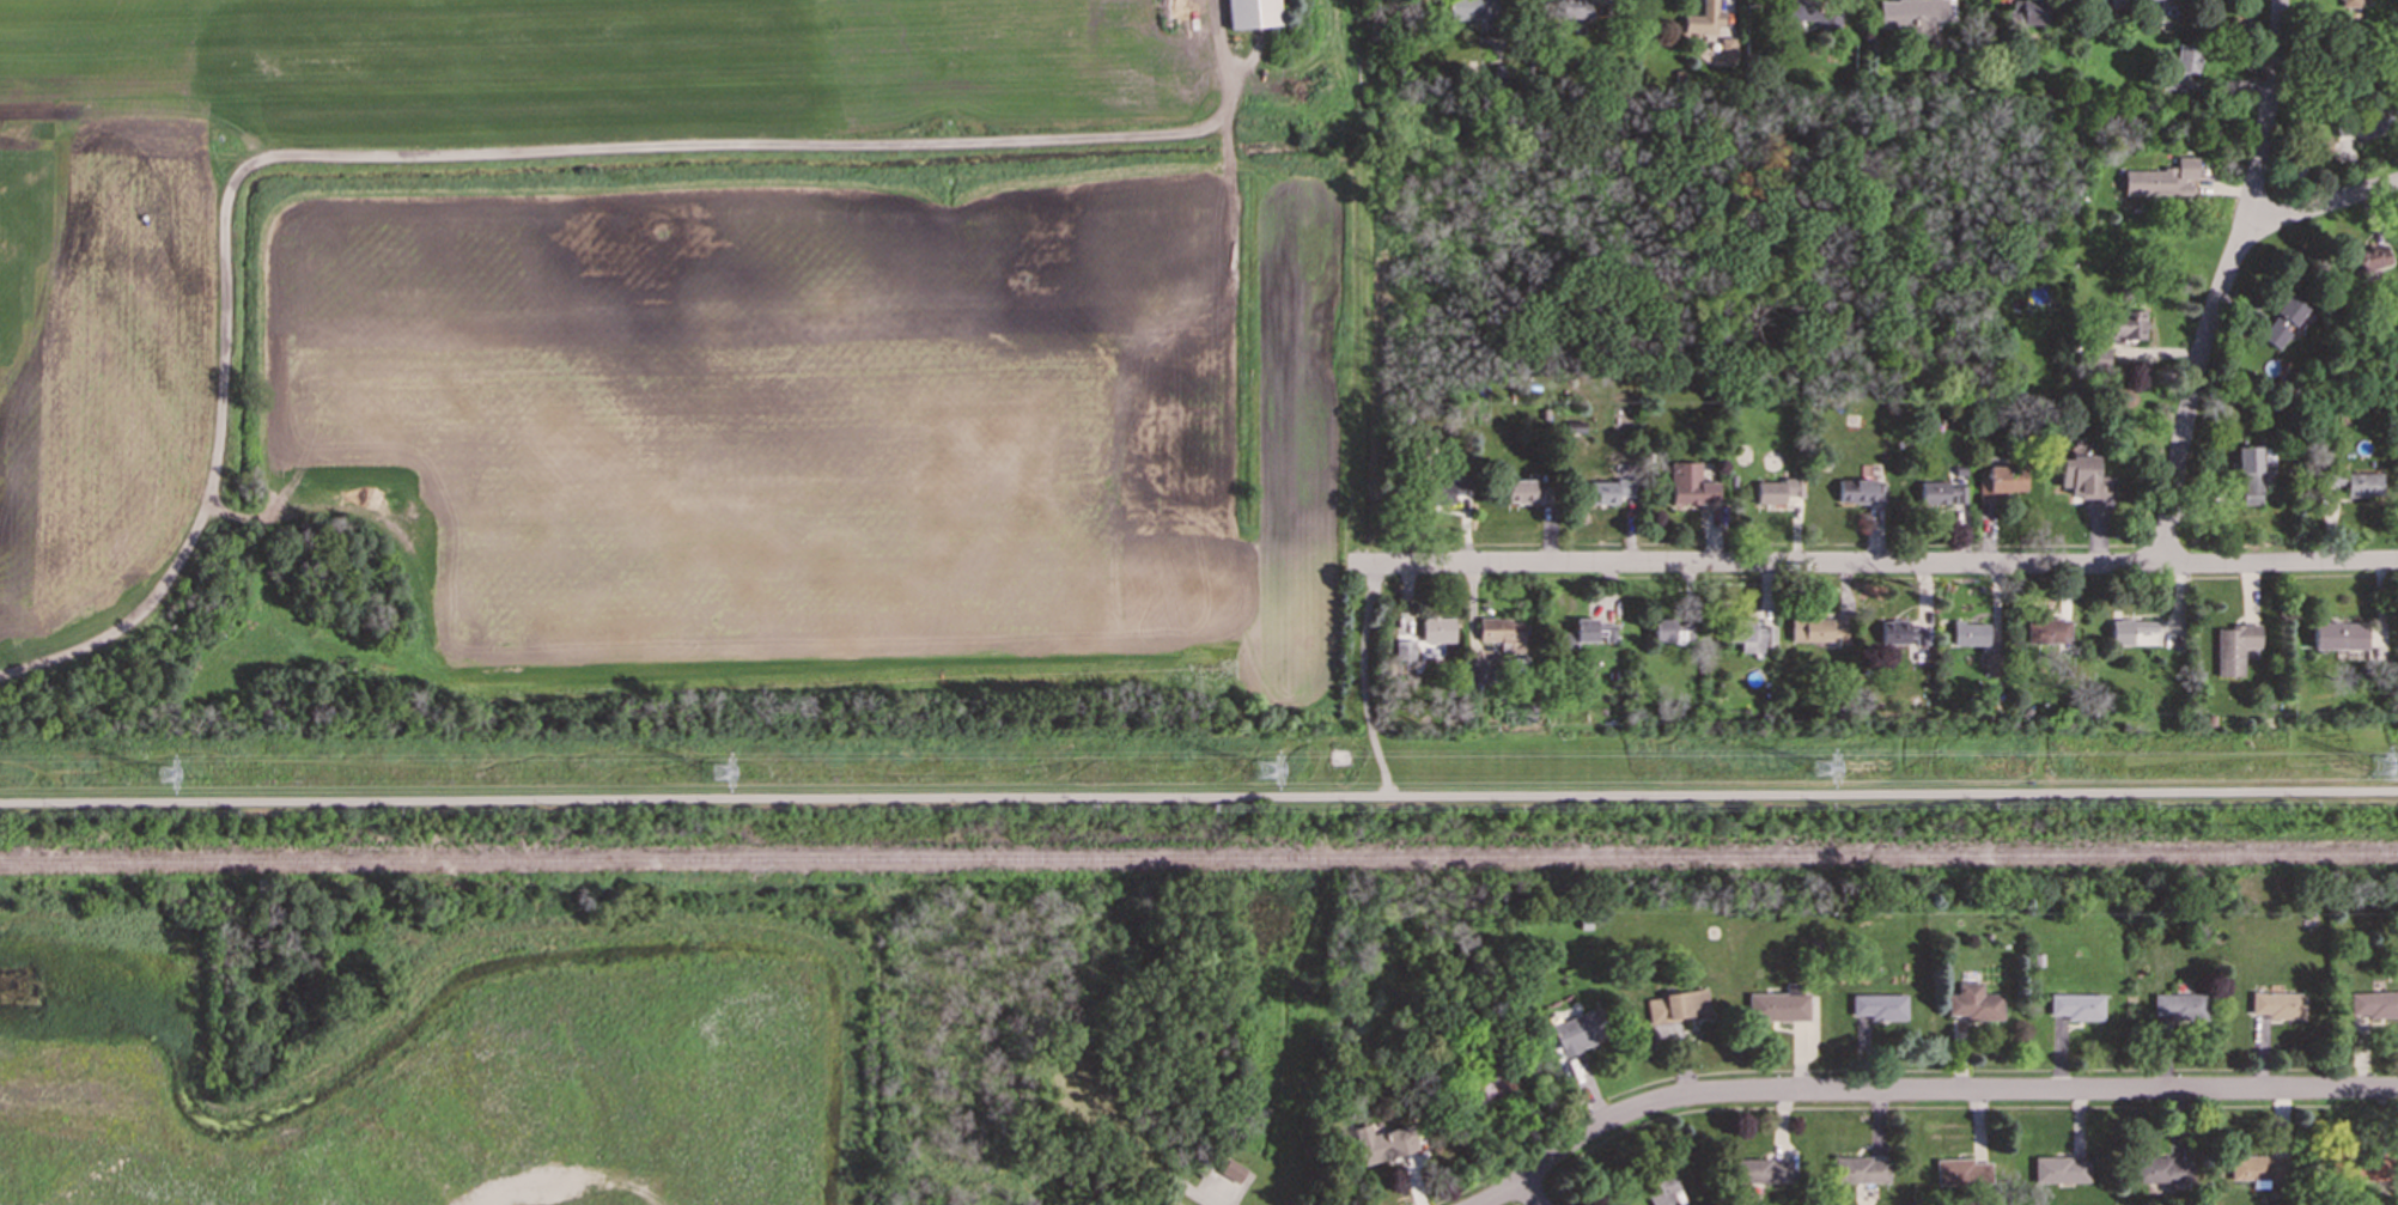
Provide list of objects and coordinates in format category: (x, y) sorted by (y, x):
building: (2354, 0)
building: (2122, 1)
building: (1467, 8)
building: (1570, 8)
building: (1795, 11)
building: (2027, 12)
building: (1253, 13)
building: (1912, 16)
building: (1704, 19)
building: (2183, 66)
building: (2363, 123)
road: (479, 144)
building: (2161, 179)
road: (2323, 205)
building: (2370, 257)
road: (2223, 282)
building: (2283, 321)
building: (2128, 323)
crop: (681, 370)
building: (2250, 473)
building: (2082, 477)
building: (2002, 480)
building: (2356, 483)
building: (1690, 485)
building: (1450, 489)
building: (1609, 491)
building: (1776, 491)
building: (1860, 491)
building: (1527, 492)
road: (1875, 565)
building: (1437, 629)
building: (2129, 629)
building: (1670, 631)
building: (1818, 631)
building: (2049, 631)
building: (1900, 632)
building: (1502, 633)
building: (1587, 633)
building: (1970, 633)
building: (1751, 635)
building: (2338, 635)
building: (2234, 647)
building: (1404, 650)
building: (1990, 663)
building: (1479, 673)
road: (1364, 681)
power tower: (1267, 771)
power tower: (1824, 771)
power tower: (2381, 771)
power tower: (723, 774)
power tower: (170, 777)
road: (1199, 796)
railway: (1199, 862)
building: (1974, 1003)
building: (1778, 1004)
building: (2373, 1004)
building: (2277, 1005)
building: (1676, 1006)
building: (1879, 1006)
building: (2076, 1006)
building: (1580, 1031)
road: (1924, 1091)
building: (1382, 1142)
building: (1231, 1169)
building: (1861, 1169)
building: (2061, 1169)
building: (2257, 1169)
building: (1759, 1170)
building: (2161, 1170)
building: (2366, 1170)
building: (1961, 1171)
building: (1664, 1192)
road: (1527, 1193)
road: (1209, 1200)

